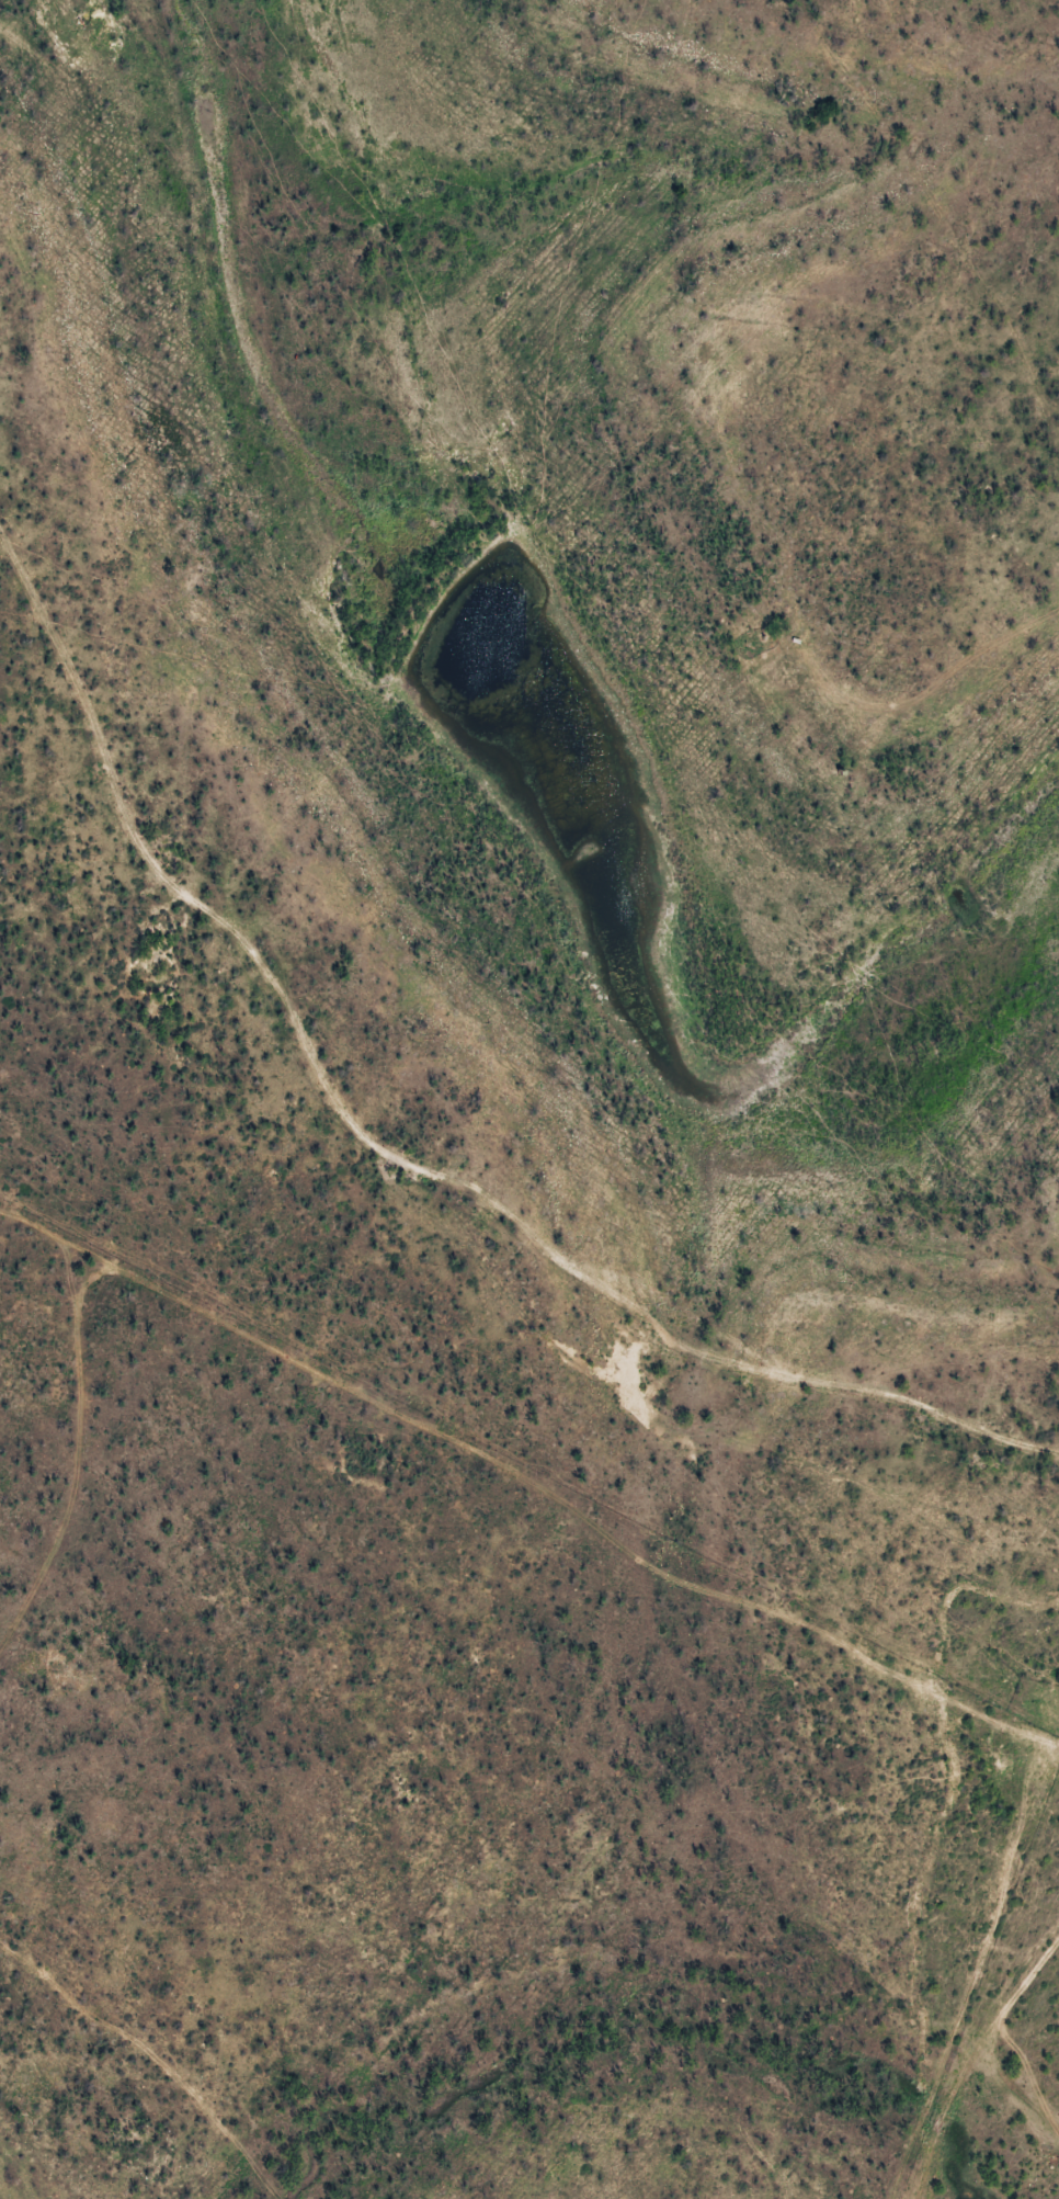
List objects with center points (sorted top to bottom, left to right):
road: (509, 1195)

